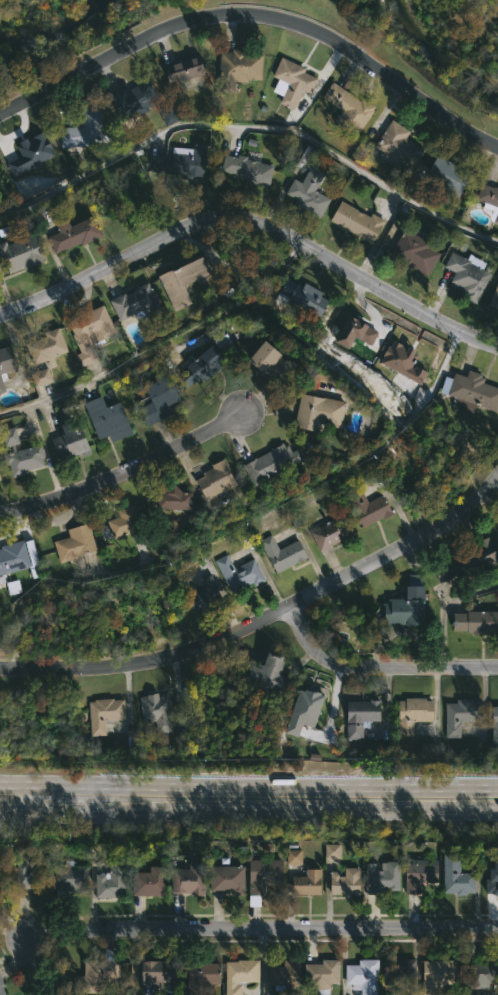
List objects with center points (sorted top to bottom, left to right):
road: (254, 19)
park: (62, 28)
park: (428, 43)
building: (243, 65)
building: (188, 68)
building: (295, 82)
building: (136, 99)
building: (352, 108)
building: (167, 116)
building: (87, 128)
road: (254, 129)
building: (400, 145)
building: (31, 154)
building: (184, 161)
building: (249, 168)
building: (450, 176)
building: (311, 191)
building: (490, 200)
building: (358, 221)
road: (252, 228)
building: (78, 233)
building: (23, 253)
building: (417, 253)
building: (469, 276)
building: (186, 282)
building: (308, 297)
building: (494, 300)
building: (141, 303)
building: (92, 333)
building: (354, 333)
building: (48, 346)
road: (162, 346)
building: (269, 358)
building: (207, 360)
building: (401, 362)
building: (7, 365)
building: (40, 377)
building: (473, 389)
building: (161, 400)
building: (320, 411)
building: (109, 419)
building: (72, 442)
road: (45, 451)
building: (25, 460)
building: (275, 465)
road: (122, 473)
building: (0, 477)
building: (218, 479)
building: (176, 500)
building: (372, 509)
building: (126, 521)
building: (334, 533)
building: (77, 543)
building: (283, 553)
building: (14, 558)
building: (470, 562)
building: (241, 573)
building: (201, 594)
building: (408, 605)
road: (443, 606)
road: (264, 622)
building: (477, 622)
road: (380, 667)
building: (273, 675)
building: (158, 711)
building: (304, 711)
building: (106, 714)
building: (416, 714)
building: (463, 716)
building: (364, 717)
building: (493, 725)
road: (249, 784)
road: (35, 796)
road: (248, 808)
building: (331, 851)
building: (293, 857)
building: (28, 869)
building: (268, 872)
building: (393, 872)
building: (73, 875)
building: (421, 875)
building: (461, 876)
building: (230, 877)
building: (191, 878)
building: (112, 880)
building: (151, 880)
building: (349, 881)
building: (492, 881)
building: (312, 882)
road: (270, 922)
road: (36, 963)
building: (398, 970)
building: (163, 972)
building: (99, 973)
building: (286, 974)
building: (438, 974)
building: (479, 974)
building: (205, 975)
building: (242, 975)
building: (324, 976)
building: (365, 976)
building: (3, 984)
building: (402, 994)

